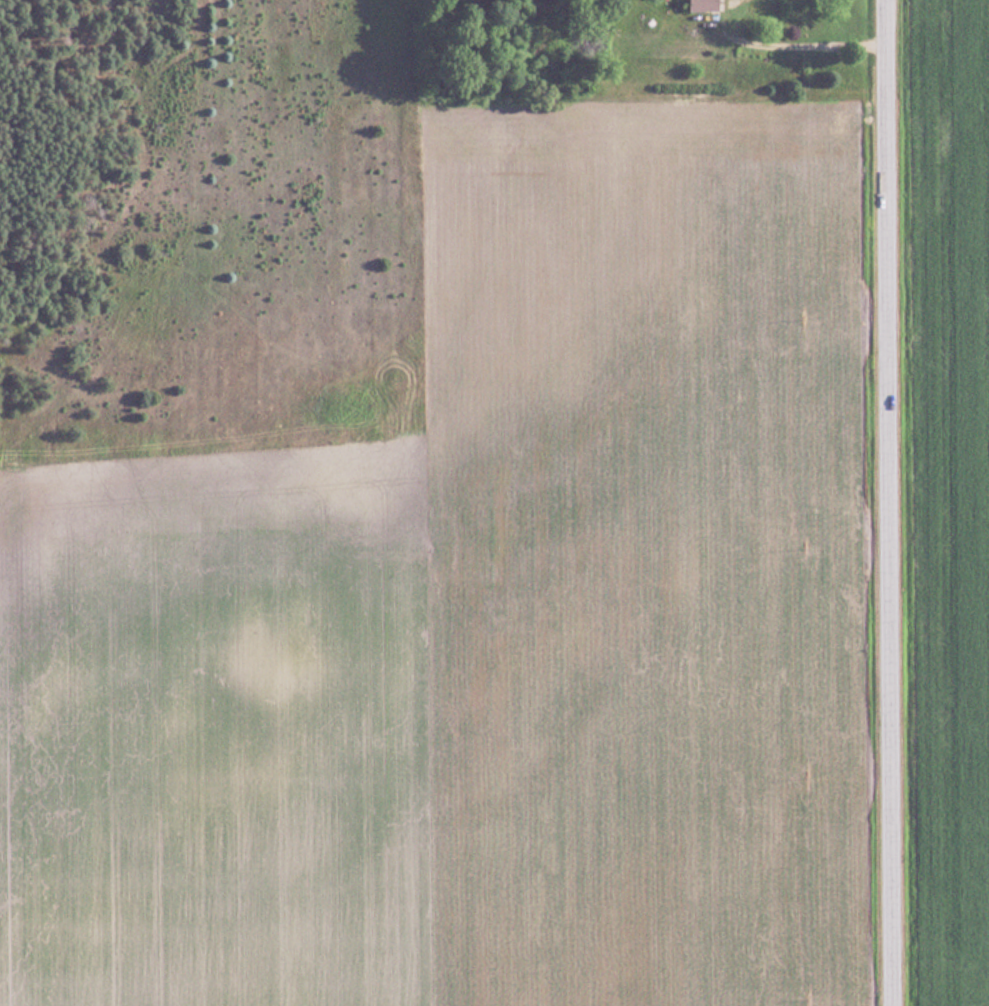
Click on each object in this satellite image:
building: (705, 5)
road: (888, 503)

